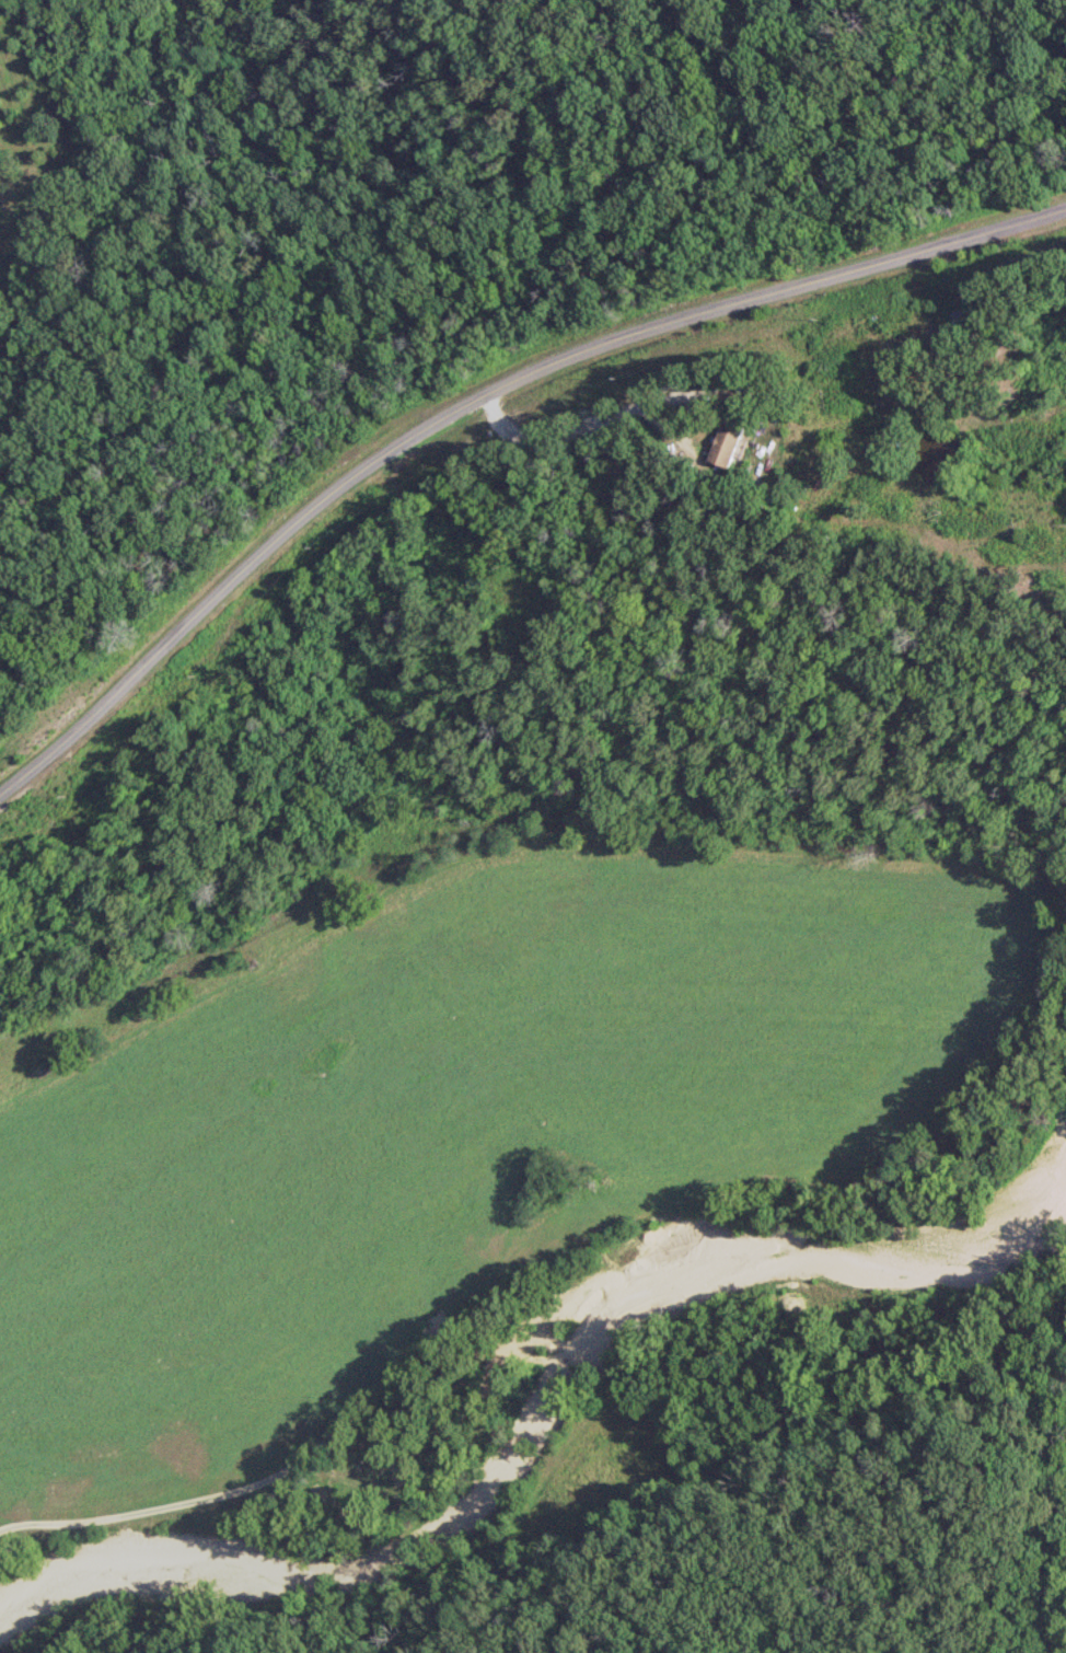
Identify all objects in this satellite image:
road: (476, 395)
building: (726, 442)
road: (861, 504)

